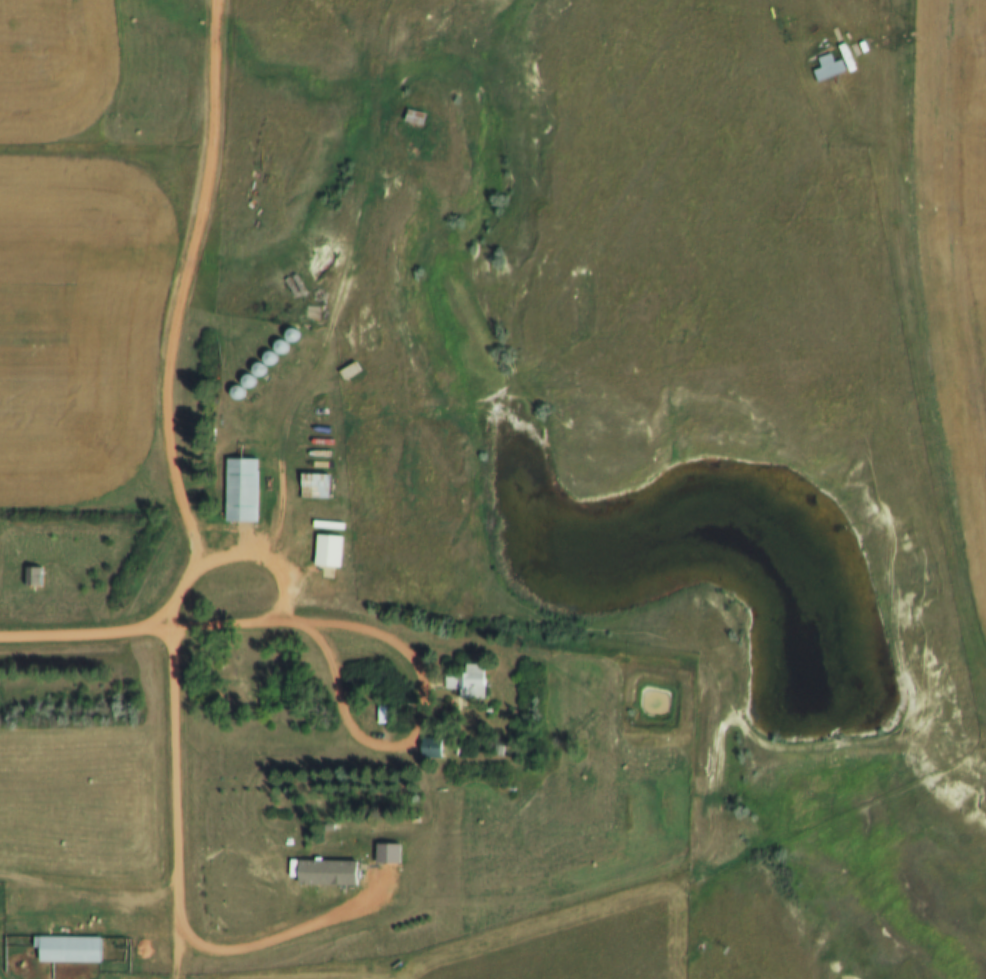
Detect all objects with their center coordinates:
building: (831, 69)
building: (419, 116)
road: (187, 286)
building: (353, 372)
building: (317, 486)
building: (244, 491)
building: (332, 555)
road: (234, 558)
building: (35, 577)
road: (75, 637)
road: (406, 659)
building: (471, 682)
building: (235, 690)
building: (385, 715)
road: (176, 872)
building: (331, 873)
building: (72, 950)
road: (176, 957)

